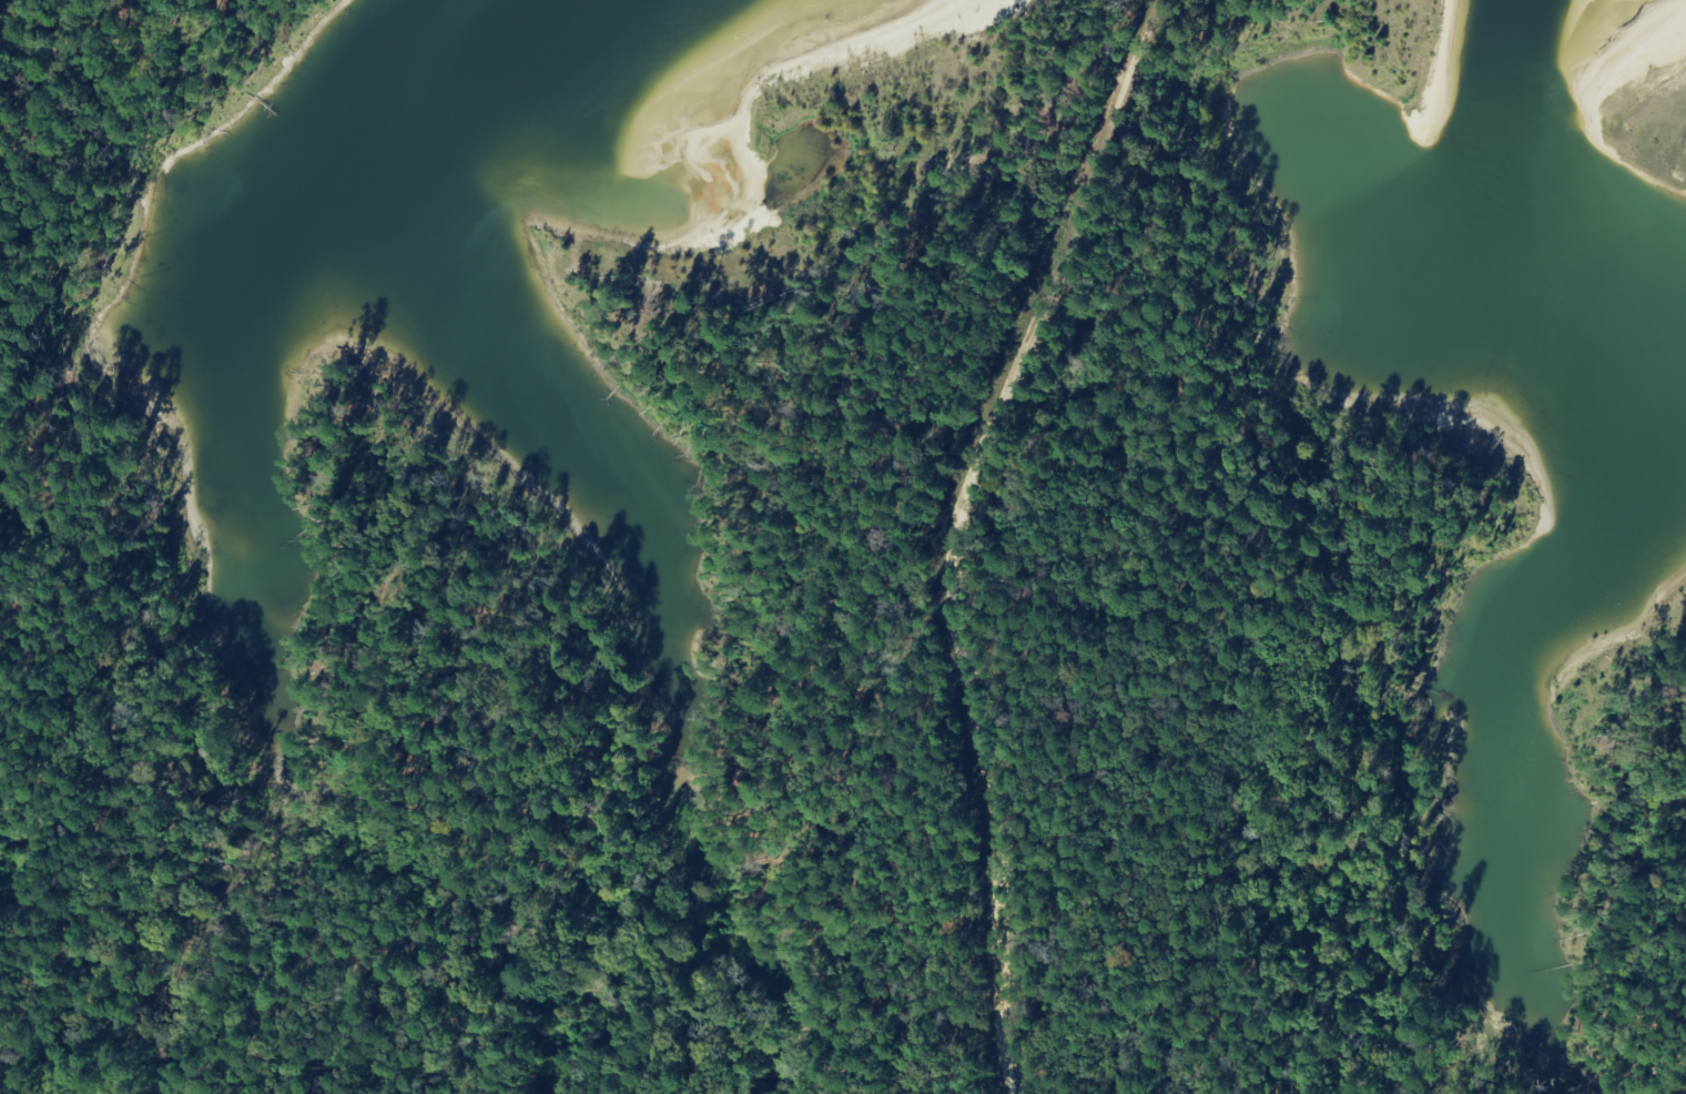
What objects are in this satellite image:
road: (87, 69)
road: (946, 528)

